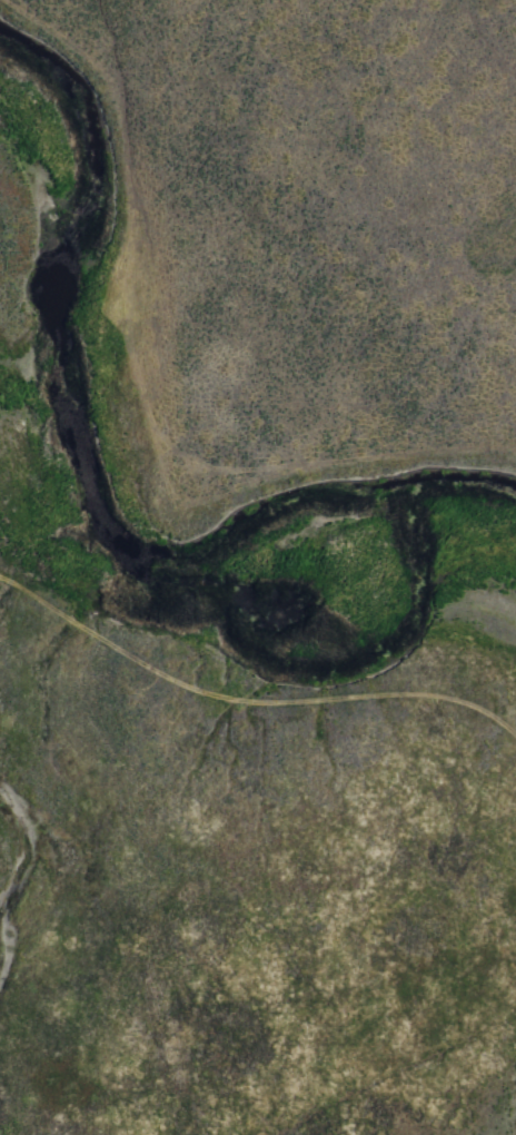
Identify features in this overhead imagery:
crop: (258, 567)

